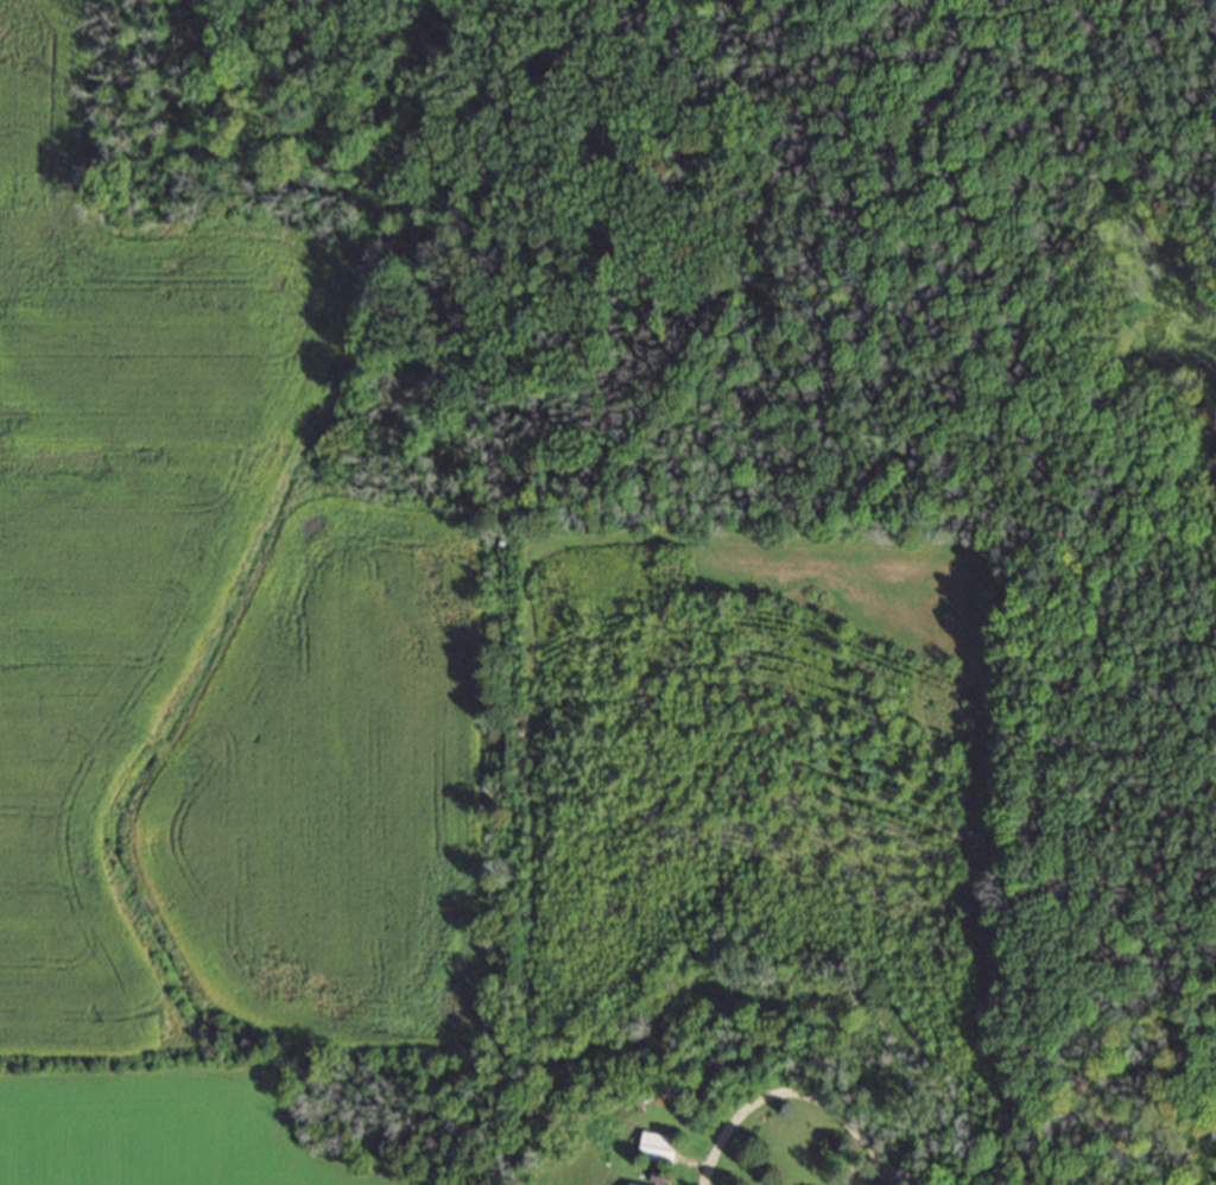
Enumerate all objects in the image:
road: (793, 1092)
building: (659, 1146)

